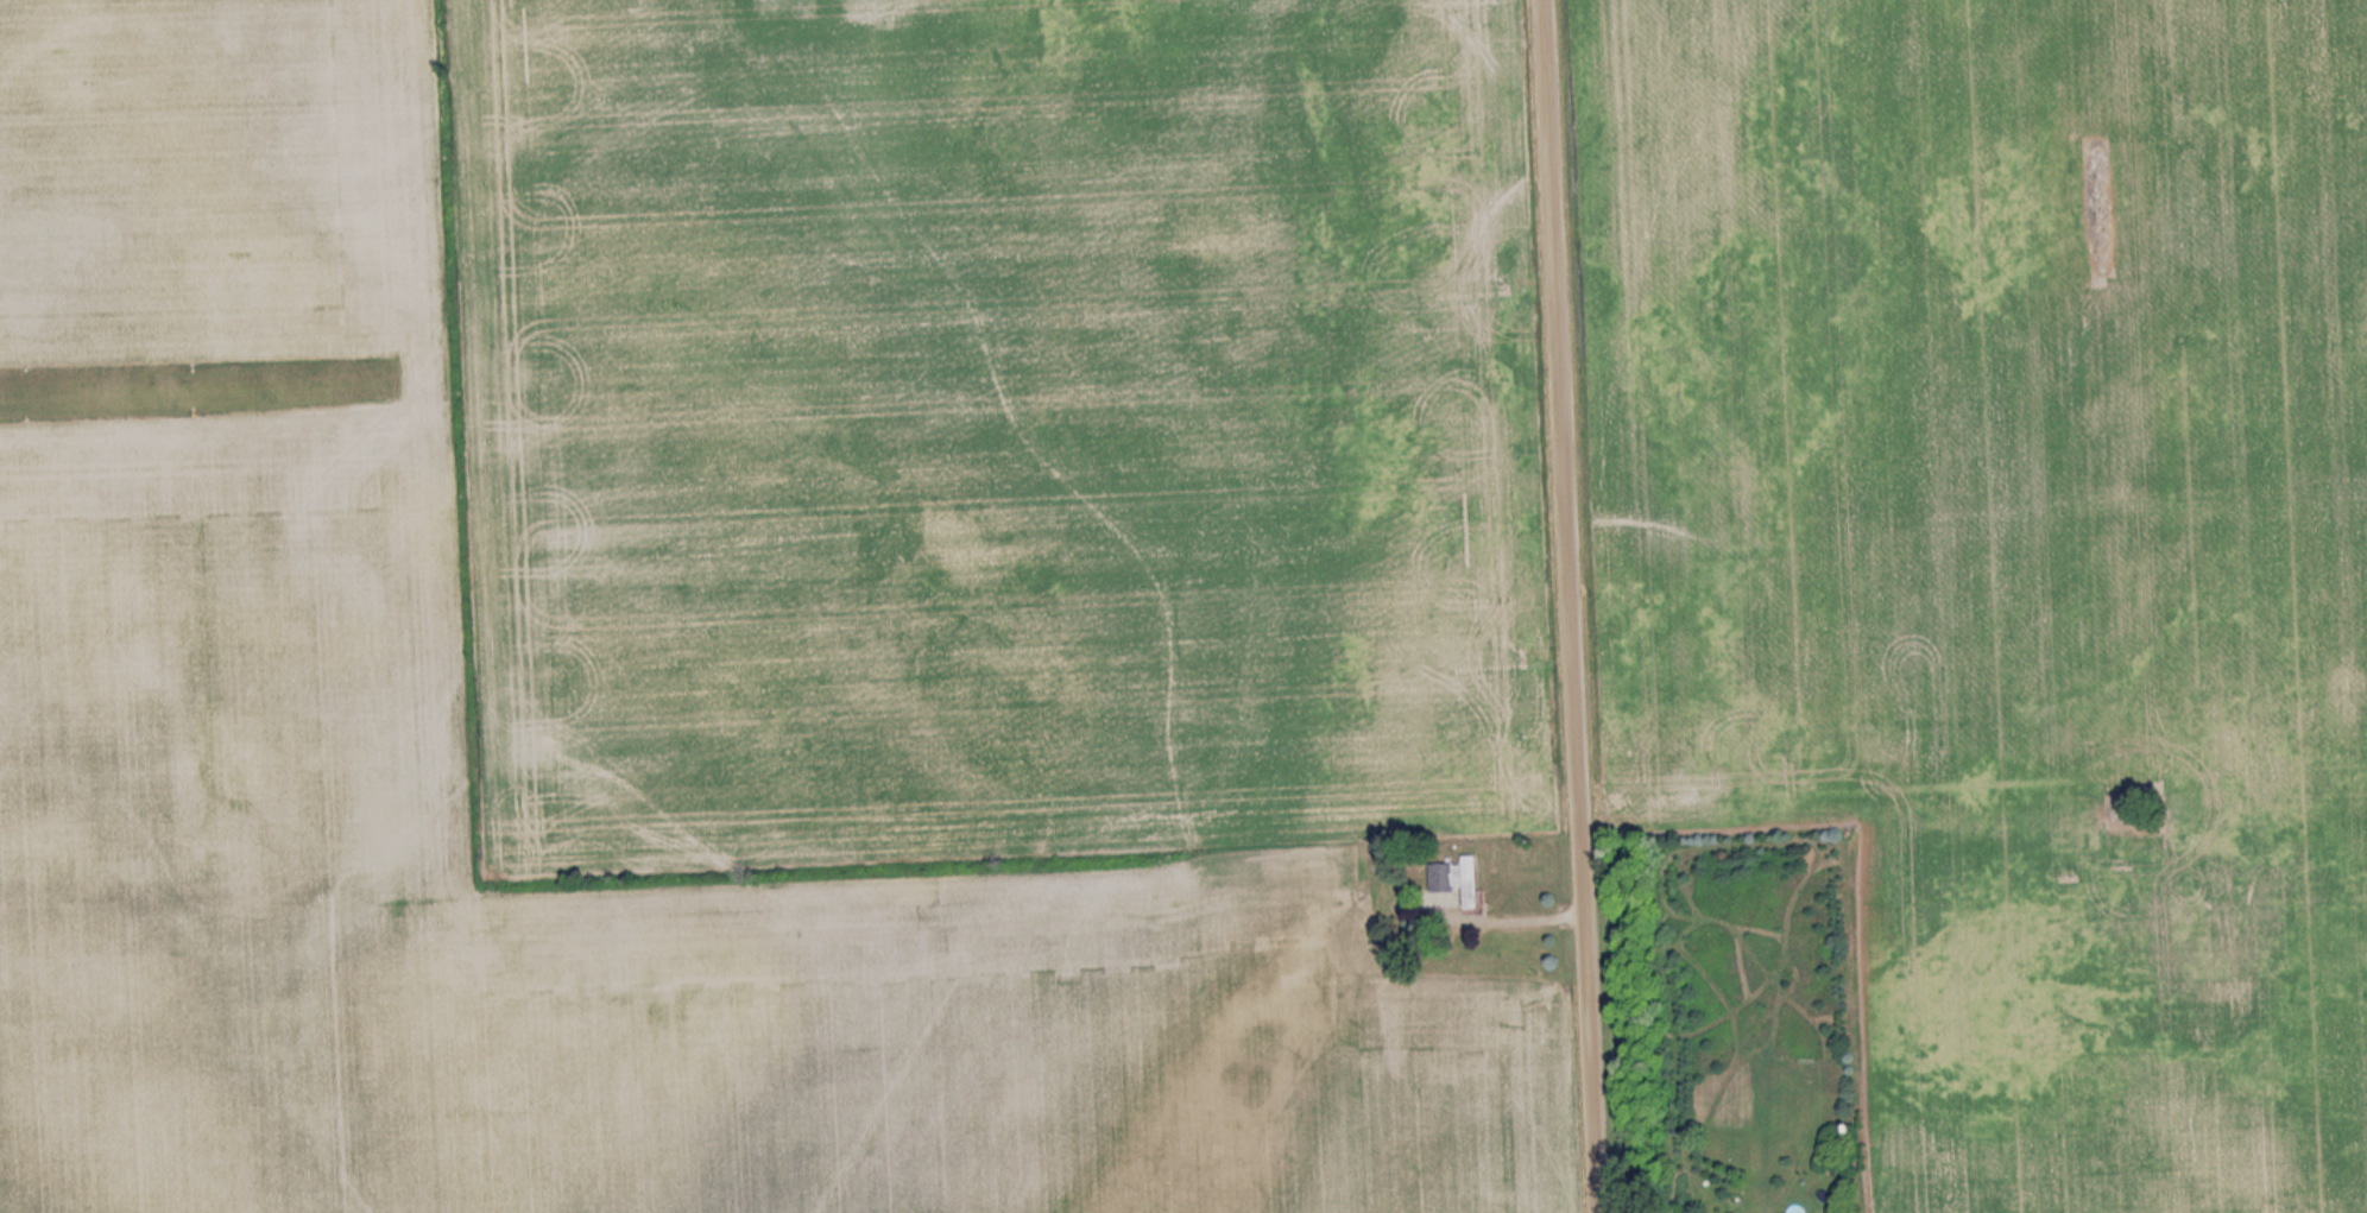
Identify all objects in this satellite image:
airport runway: (192, 388)
road: (1568, 606)
building: (1458, 879)

